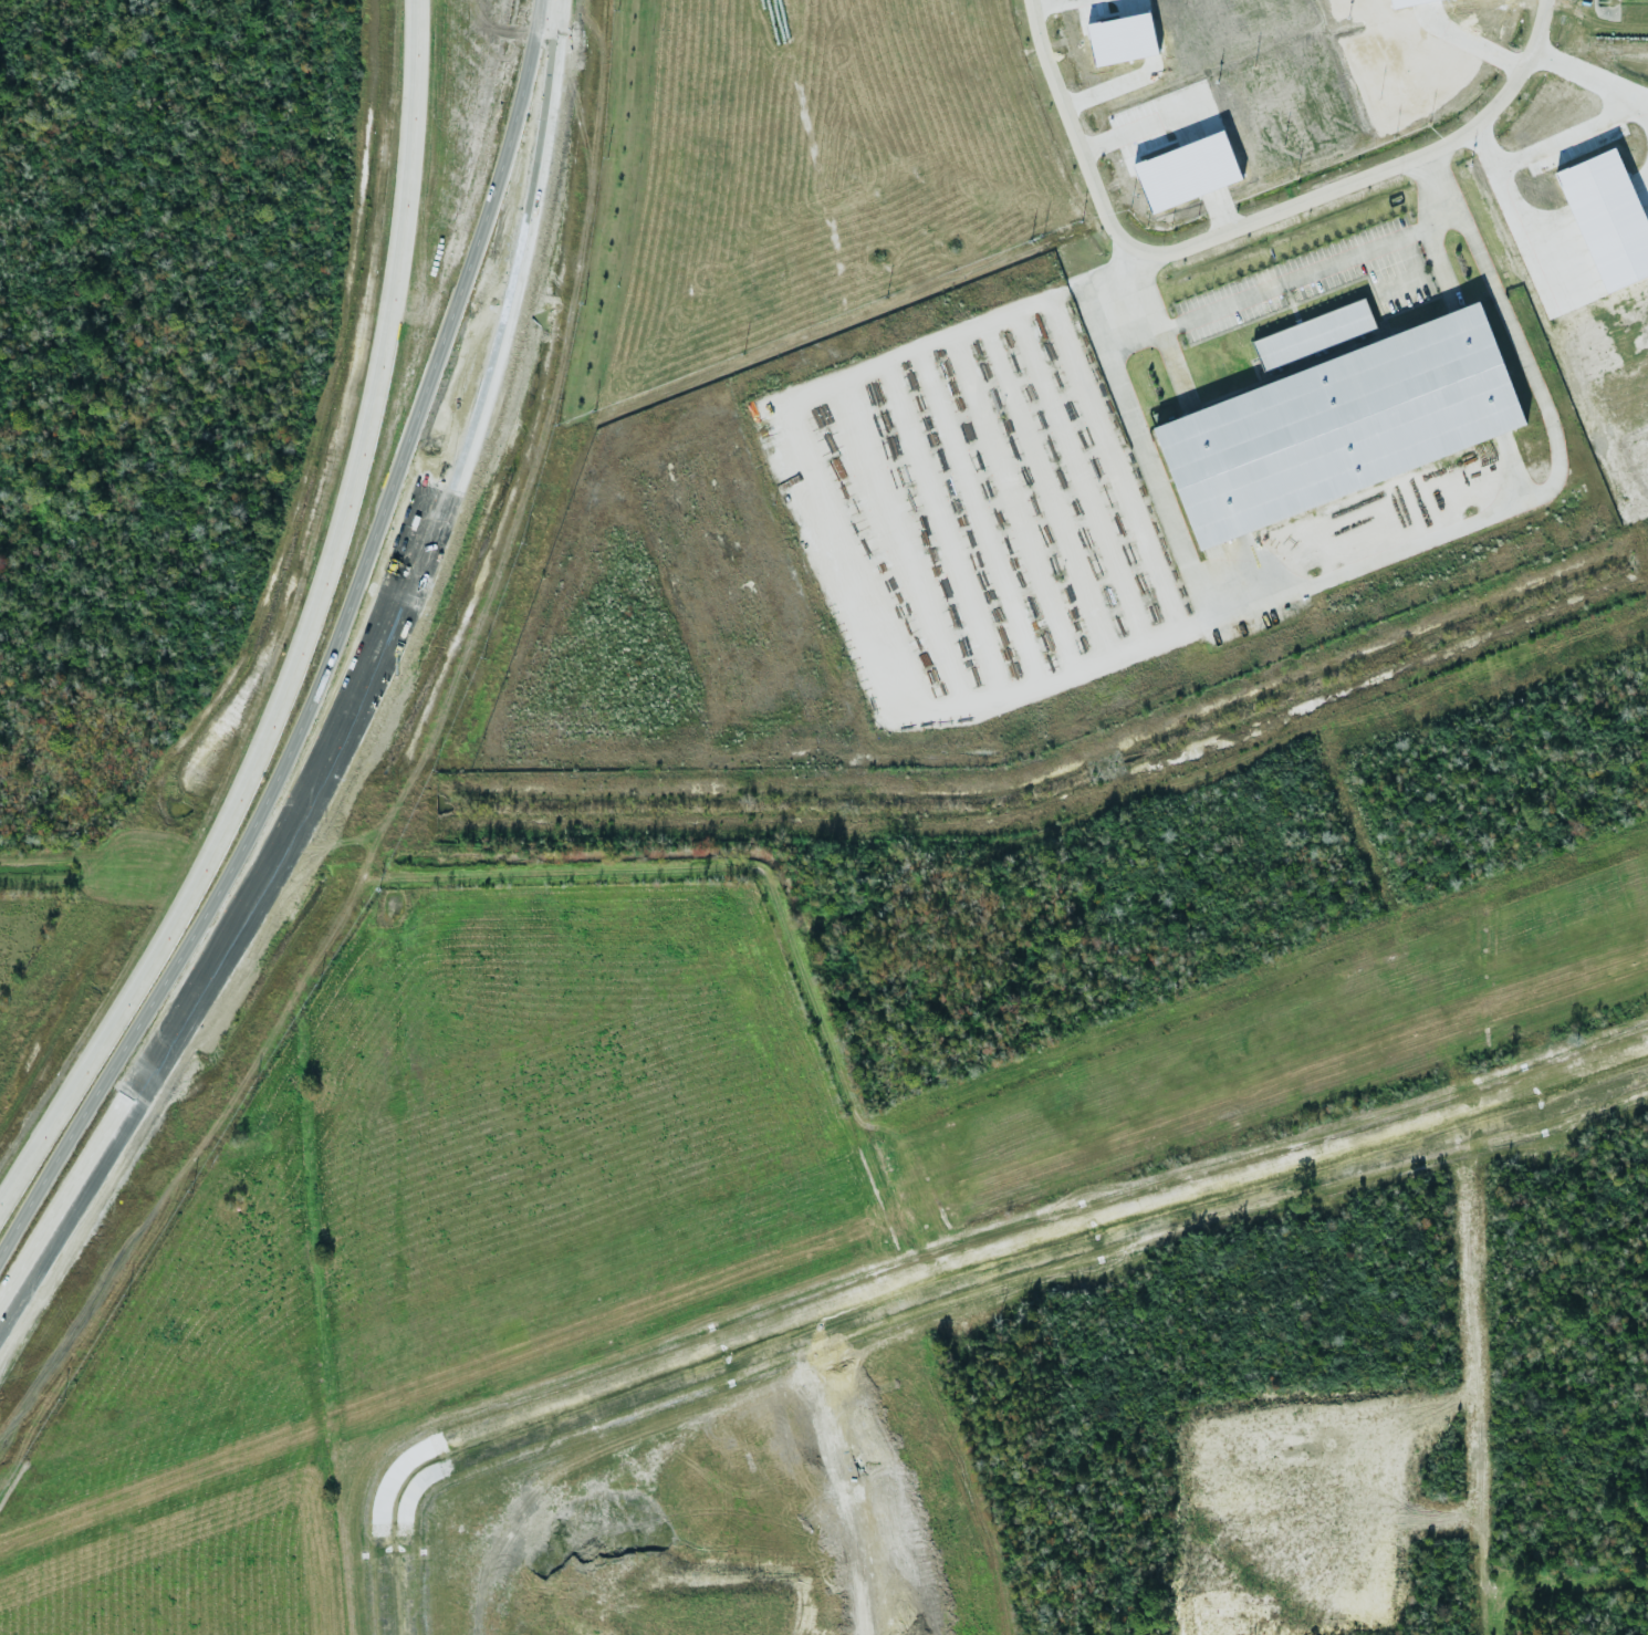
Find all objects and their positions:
road: (1492, 37)
road: (1595, 118)
road: (1078, 129)
road: (1383, 170)
road: (1435, 187)
road: (1261, 291)
building: (1312, 333)
building: (1339, 425)
road: (361, 449)
road: (432, 450)
road: (397, 455)
road: (465, 456)
building: (1214, 575)
road: (1054, 683)
road: (101, 1040)
road: (132, 1092)

